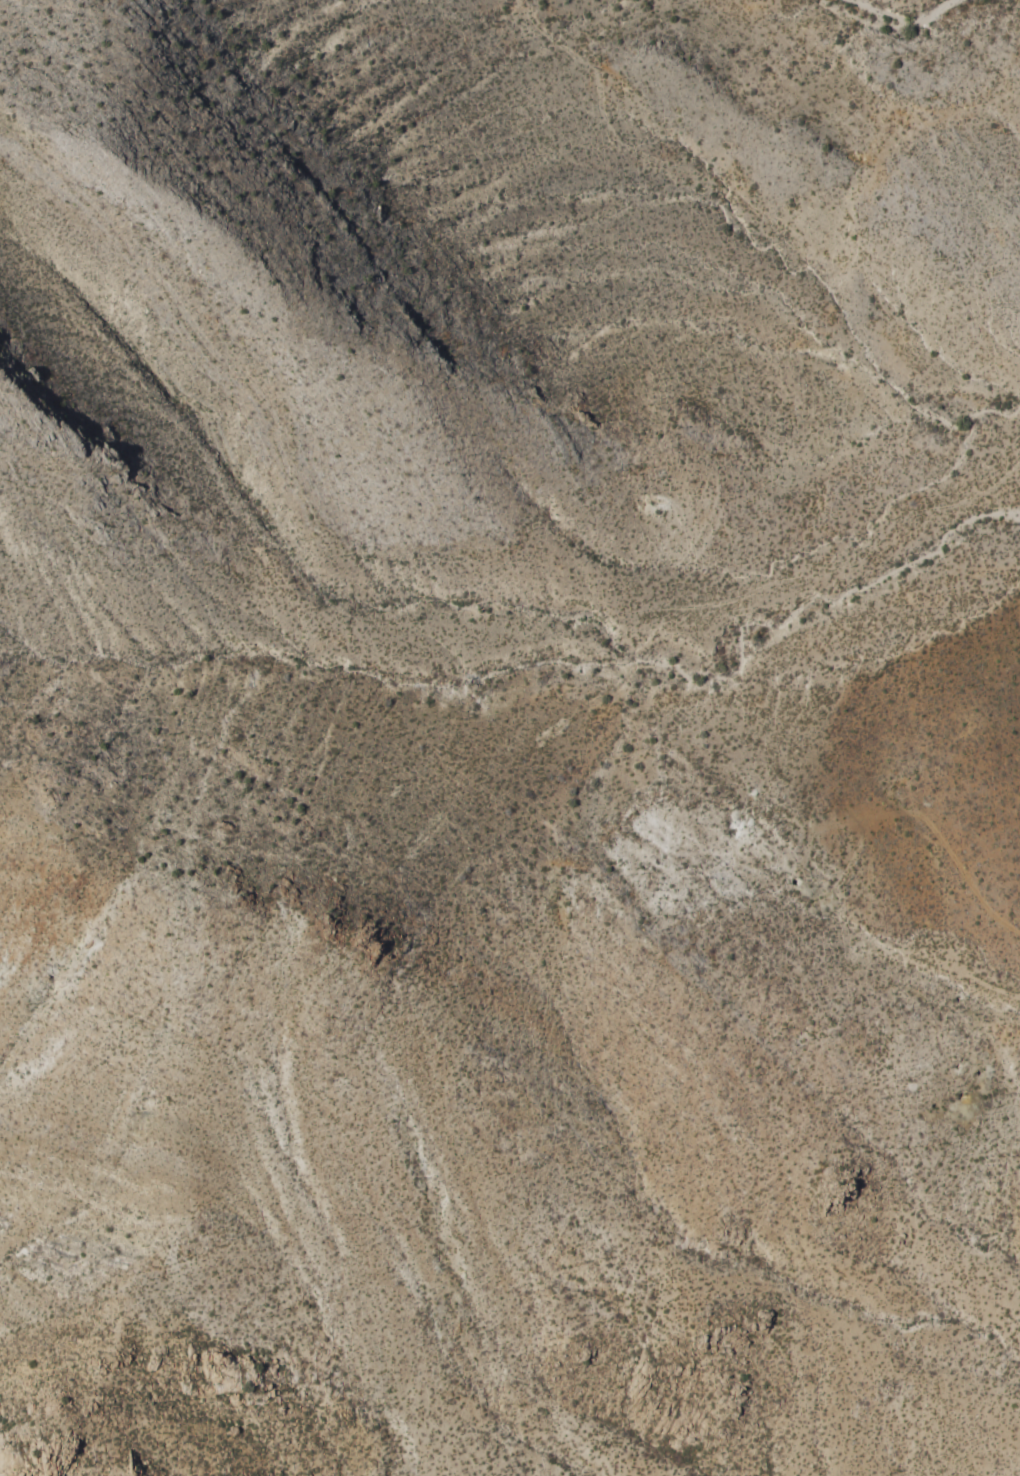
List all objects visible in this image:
road: (835, 568)
mineshaft: (802, 859)
road: (965, 873)
road: (911, 953)

